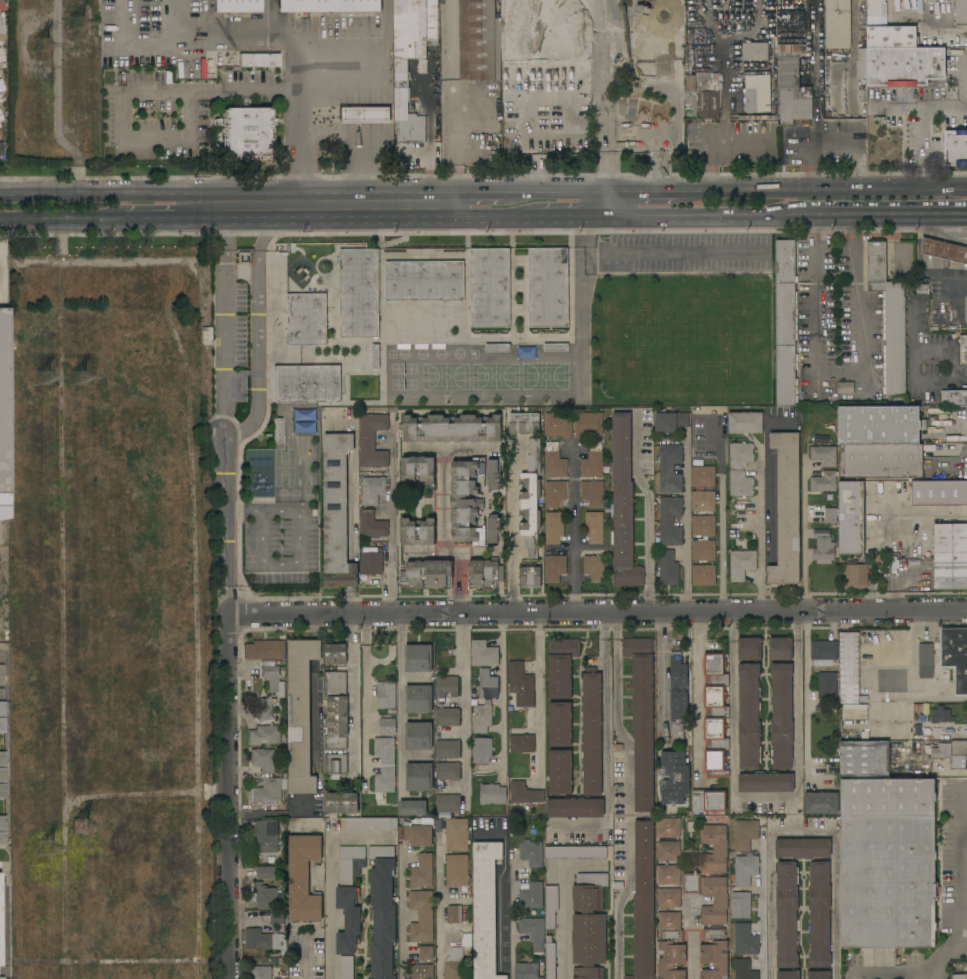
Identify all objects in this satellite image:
building: (1, 2)
building: (235, 5)
building: (327, 5)
building: (0, 7)
building: (960, 12)
building: (837, 23)
power tower: (80, 26)
building: (414, 27)
building: (886, 30)
building: (1, 32)
building: (697, 32)
road: (242, 38)
building: (479, 41)
power tower: (46, 46)
building: (755, 51)
building: (1, 57)
building: (700, 58)
building: (258, 59)
building: (904, 65)
road: (964, 80)
road: (603, 84)
building: (1, 86)
road: (188, 91)
building: (791, 92)
building: (757, 93)
building: (703, 95)
road: (452, 97)
building: (775, 107)
road: (896, 108)
building: (363, 114)
building: (407, 117)
building: (1, 118)
building: (0, 125)
road: (920, 126)
building: (245, 131)
building: (631, 134)
road: (632, 136)
road: (706, 141)
road: (833, 141)
road: (350, 144)
building: (1, 148)
building: (955, 148)
road: (821, 192)
road: (557, 194)
road: (643, 194)
road: (480, 195)
road: (228, 196)
road: (611, 206)
road: (301, 208)
road: (353, 208)
road: (879, 217)
road: (573, 219)
road: (699, 219)
road: (359, 220)
road: (62, 221)
road: (152, 221)
road: (965, 226)
road: (934, 228)
road: (943, 236)
road: (954, 240)
road: (935, 248)
building: (944, 251)
road: (955, 253)
road: (670, 254)
road: (935, 265)
road: (956, 269)
road: (931, 273)
road: (962, 275)
building: (424, 281)
building: (489, 287)
building: (548, 287)
building: (921, 289)
building: (358, 293)
road: (582, 307)
road: (963, 316)
building: (889, 317)
building: (306, 319)
building: (785, 322)
road: (227, 327)
road: (258, 337)
building: (555, 347)
building: (497, 348)
building: (962, 349)
building: (375, 356)
road: (910, 367)
road: (838, 369)
power tower: (81, 381)
power tower: (46, 383)
building: (306, 383)
building: (845, 387)
building: (953, 397)
building: (4, 417)
building: (669, 422)
building: (744, 422)
building: (524, 423)
road: (951, 424)
building: (557, 425)
building: (587, 425)
building: (879, 425)
building: (451, 429)
building: (277, 430)
building: (372, 441)
building: (739, 454)
building: (823, 455)
building: (553, 461)
building: (592, 461)
building: (883, 461)
road: (963, 461)
building: (669, 469)
building: (417, 470)
building: (493, 474)
building: (702, 476)
building: (824, 482)
building: (739, 483)
building: (372, 490)
building: (938, 492)
building: (592, 493)
building: (554, 494)
building: (530, 499)
building: (464, 501)
building: (703, 501)
building: (622, 505)
road: (352, 508)
road: (262, 509)
building: (786, 509)
road: (926, 512)
building: (336, 513)
road: (648, 514)
building: (831, 515)
building: (850, 517)
building: (670, 520)
road: (226, 525)
building: (372, 525)
road: (392, 525)
road: (687, 526)
building: (703, 526)
building: (553, 527)
building: (593, 527)
building: (493, 528)
road: (575, 528)
building: (417, 532)
road: (513, 537)
road: (260, 538)
road: (300, 538)
road: (722, 539)
building: (703, 550)
building: (823, 551)
road: (758, 556)
building: (950, 556)
building: (371, 561)
building: (741, 564)
road: (280, 567)
building: (554, 568)
building: (593, 568)
building: (668, 568)
building: (856, 572)
building: (484, 573)
road: (351, 574)
building: (429, 574)
building: (703, 574)
building: (529, 577)
road: (349, 602)
road: (597, 613)
road: (463, 621)
road: (801, 630)
building: (749, 649)
building: (780, 649)
building: (264, 650)
building: (824, 650)
building: (335, 654)
building: (483, 654)
building: (925, 654)
building: (955, 656)
building: (418, 658)
building: (561, 666)
building: (848, 668)
road: (661, 673)
road: (910, 674)
building: (272, 677)
building: (487, 684)
building: (520, 684)
building: (827, 685)
building: (446, 686)
road: (699, 694)
building: (385, 695)
road: (501, 695)
building: (677, 696)
building: (418, 699)
road: (539, 699)
road: (366, 701)
road: (402, 702)
road: (734, 704)
building: (264, 708)
building: (2, 709)
building: (336, 710)
building: (300, 715)
building: (482, 715)
building: (715, 715)
building: (941, 715)
building: (781, 716)
building: (447, 717)
building: (748, 717)
building: (642, 719)
building: (560, 724)
building: (2, 725)
building: (387, 726)
building: (591, 732)
building: (264, 735)
building: (418, 736)
building: (521, 741)
road: (608, 742)
building: (447, 749)
building: (482, 750)
building: (951, 753)
building: (864, 758)
building: (2, 759)
building: (263, 759)
building: (335, 765)
building: (384, 765)
building: (447, 771)
building: (560, 772)
building: (2, 775)
building: (419, 777)
building: (674, 777)
building: (765, 782)
building: (2, 791)
building: (268, 791)
building: (524, 793)
building: (493, 794)
road: (227, 797)
road: (766, 797)
building: (708, 801)
building: (342, 802)
building: (447, 803)
building: (821, 803)
building: (575, 807)
building: (412, 808)
road: (273, 815)
building: (2, 822)
building: (372, 824)
road: (804, 825)
building: (668, 828)
power tower: (88, 829)
building: (457, 834)
building: (418, 835)
building: (266, 836)
building: (2, 839)
power tower: (50, 848)
building: (802, 848)
building: (713, 849)
building: (668, 851)
building: (531, 853)
building: (575, 853)
building: (732, 853)
building: (887, 863)
building: (456, 870)
building: (421, 871)
building: (266, 872)
building: (668, 874)
building: (303, 878)
building: (690, 883)
building: (532, 895)
building: (266, 897)
building: (349, 898)
road: (562, 898)
building: (668, 898)
building: (713, 900)
road: (773, 902)
road: (835, 902)
building: (643, 903)
building: (740, 905)
road: (332, 906)
road: (617, 906)
building: (550, 907)
building: (485, 908)
road: (438, 909)
building: (382, 911)
road: (402, 911)
building: (786, 914)
building: (819, 914)
building: (421, 916)
building: (459, 917)
road: (513, 917)
building: (277, 918)
building: (588, 926)
road: (962, 932)
building: (532, 933)
road: (693, 939)
building: (263, 940)
building: (745, 940)
building: (670, 946)
building: (426, 952)
building: (714, 954)
road: (305, 956)
building: (550, 958)
building: (454, 964)
building: (346, 967)
building: (744, 970)
building: (420, 971)
building: (527, 971)
building: (261, 972)
building: (787, 975)
building: (818, 975)
building: (960, 976)
building: (1, 978)
building: (282, 978)

